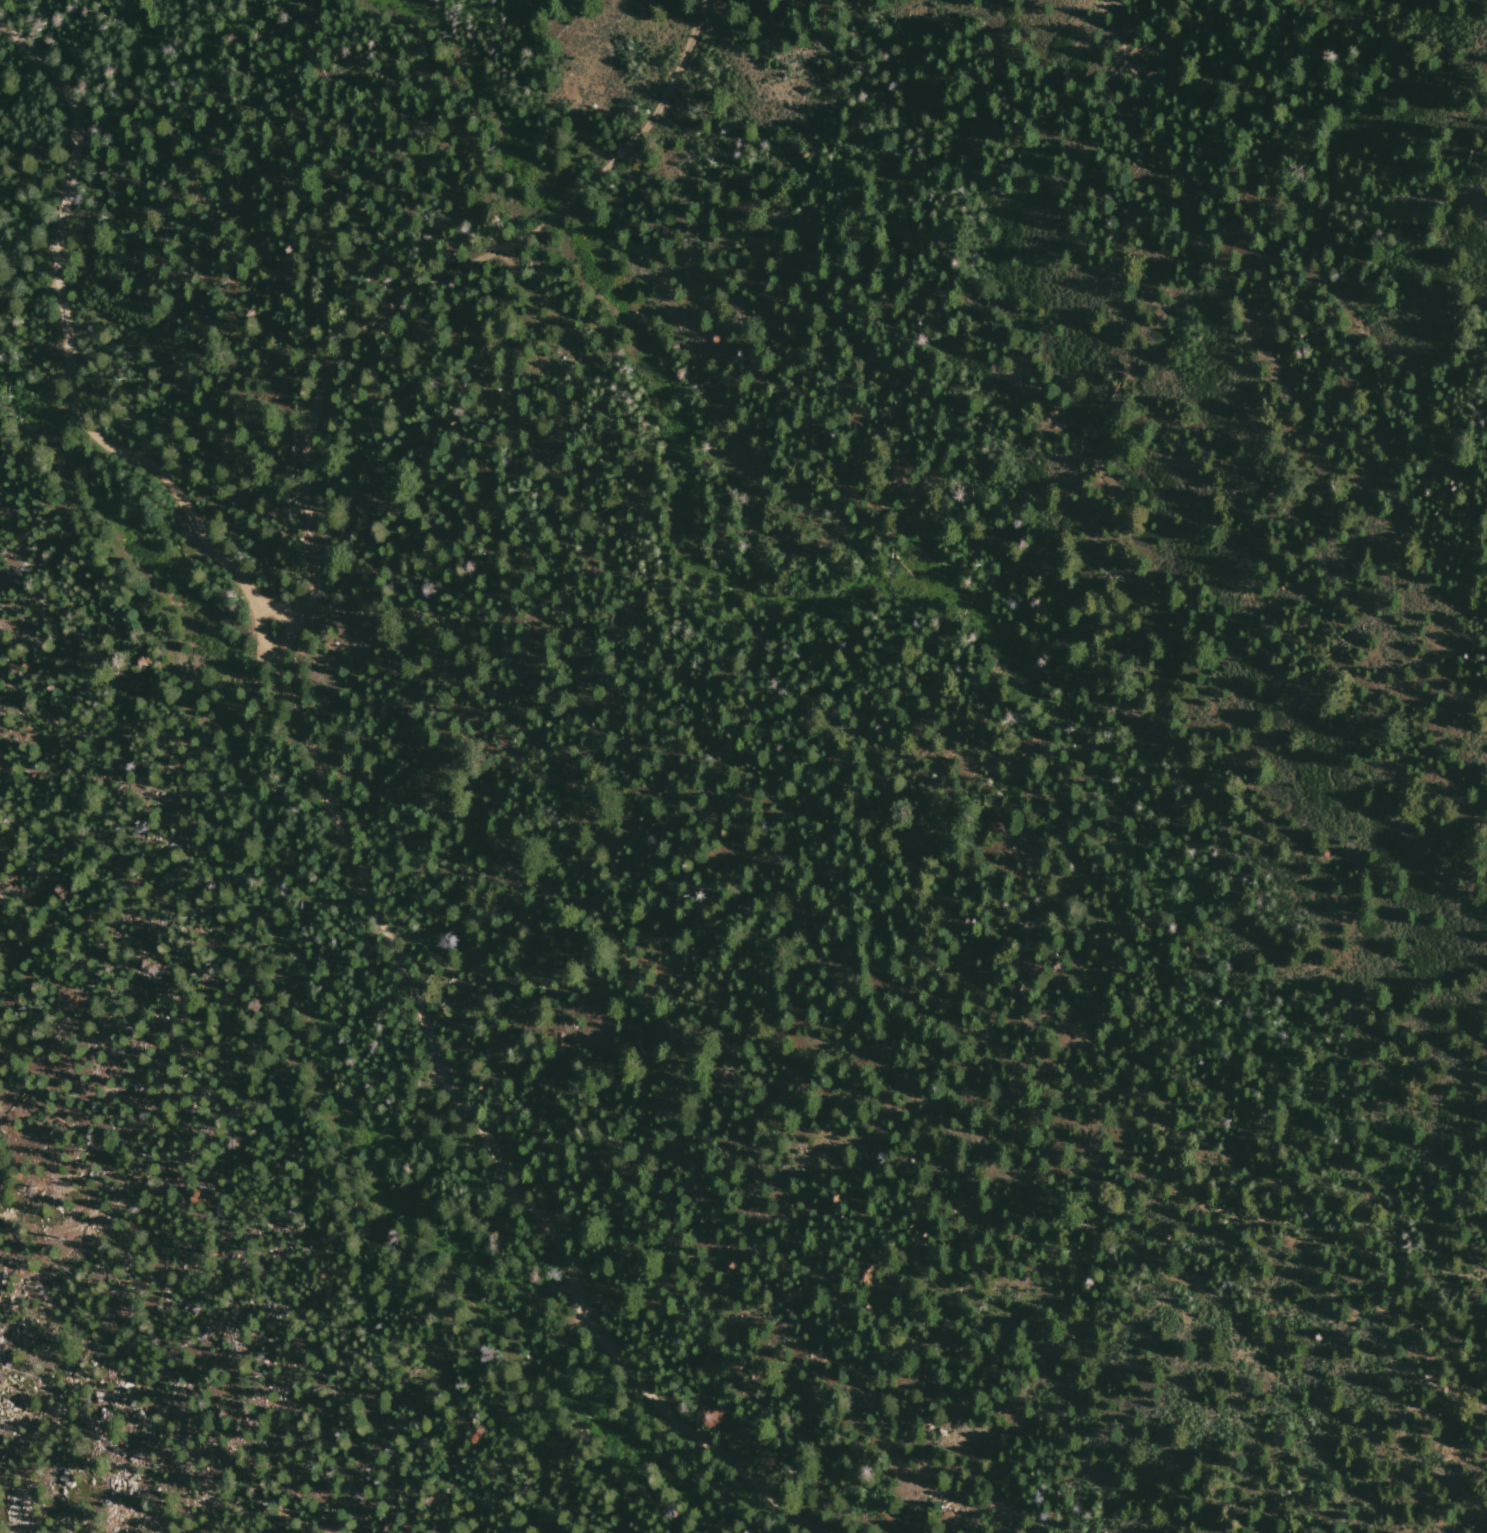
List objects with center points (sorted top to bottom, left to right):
road: (425, 287)
road: (332, 807)
road: (541, 1324)
road: (514, 1397)

